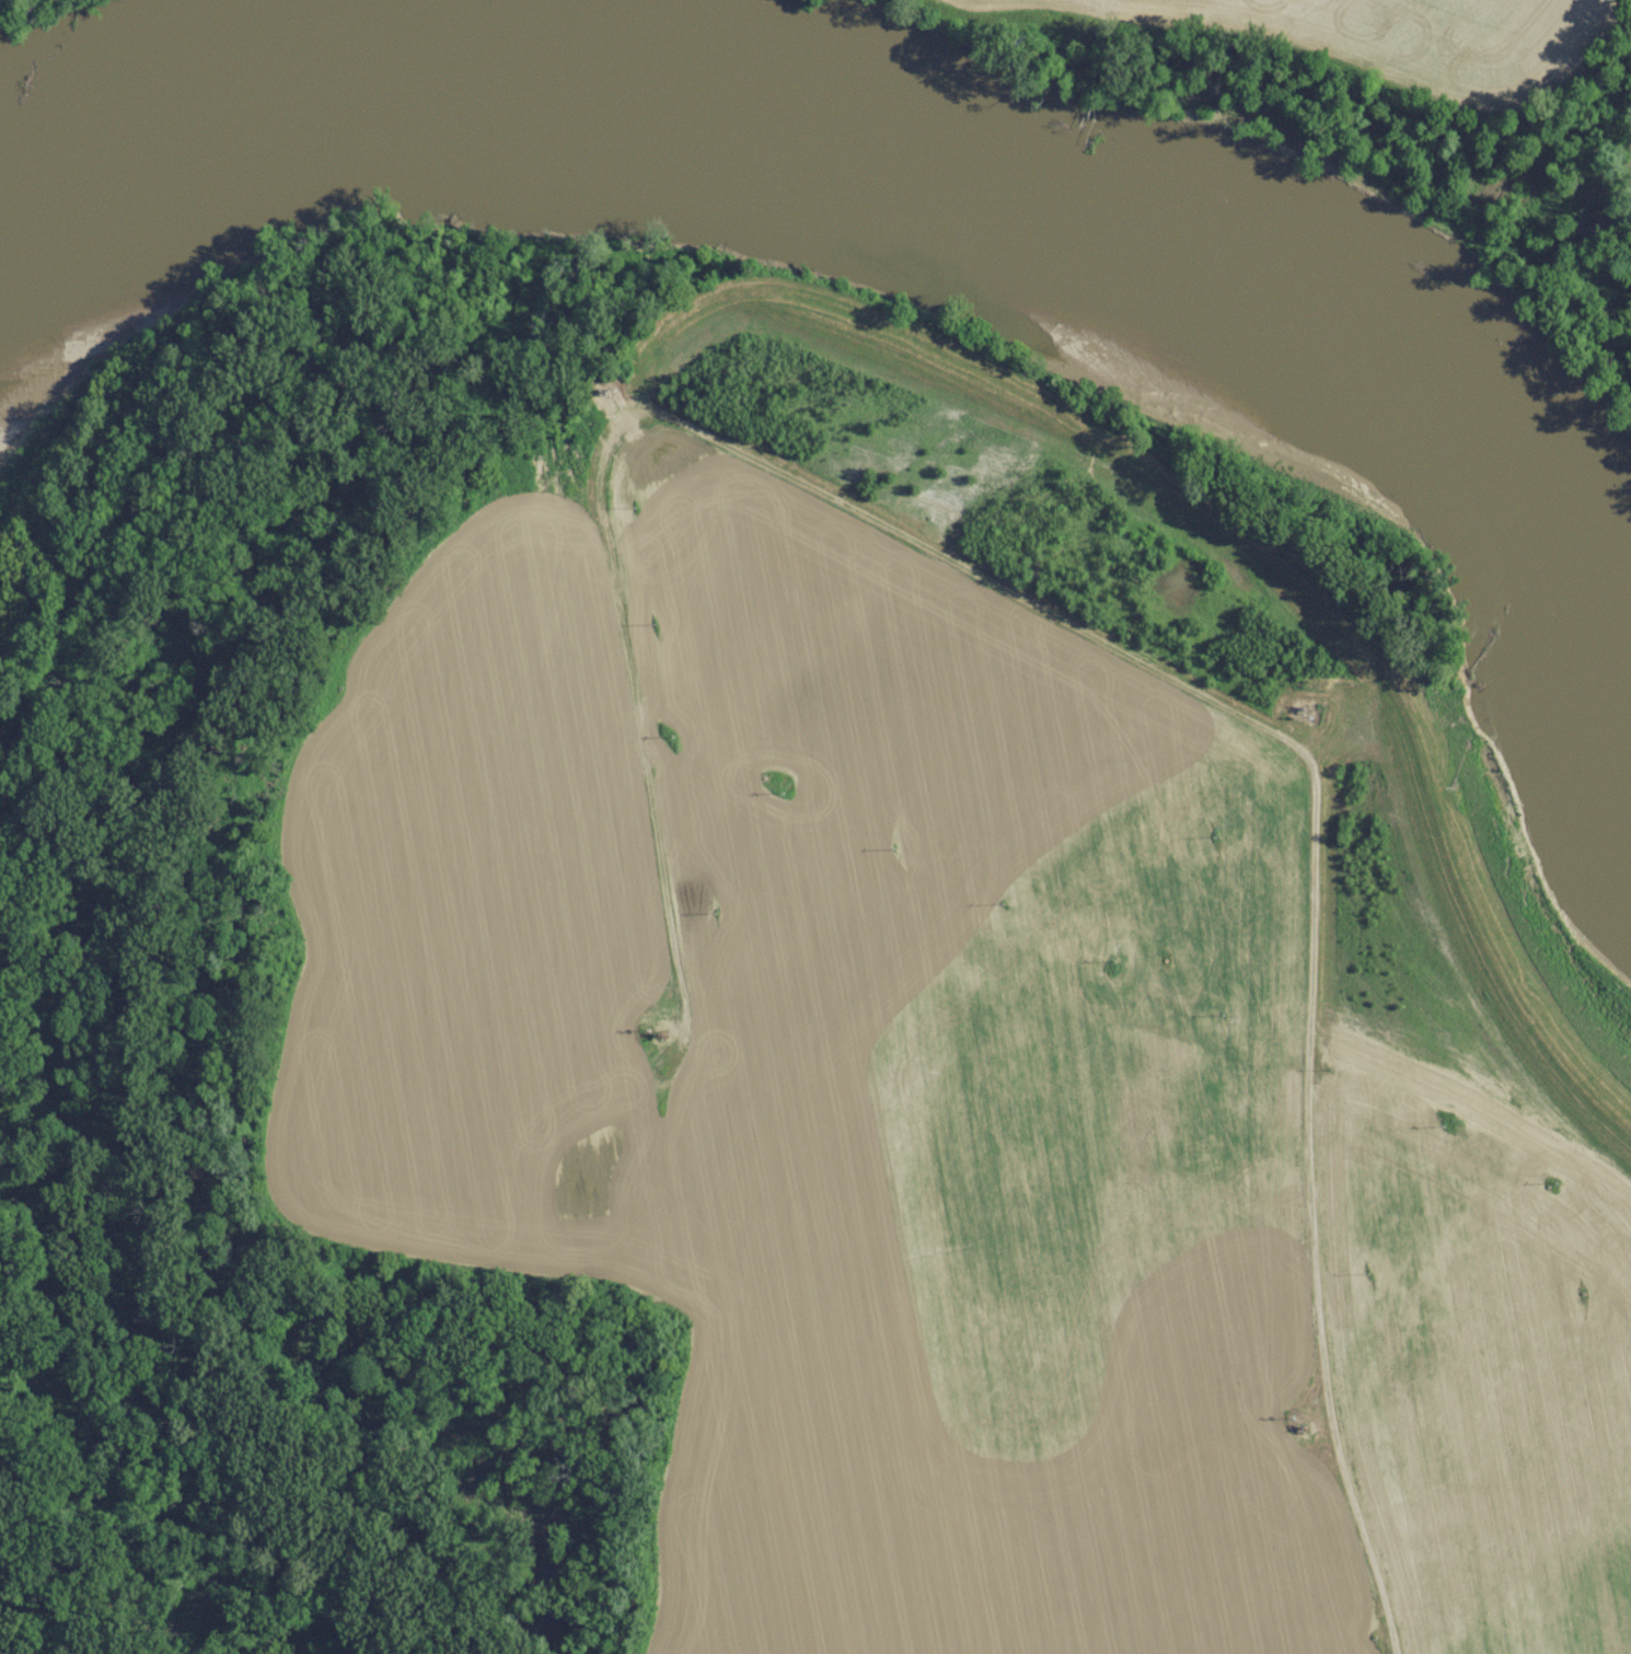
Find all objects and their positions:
building: (1025, 47)
river: (837, 169)
road: (1076, 633)

